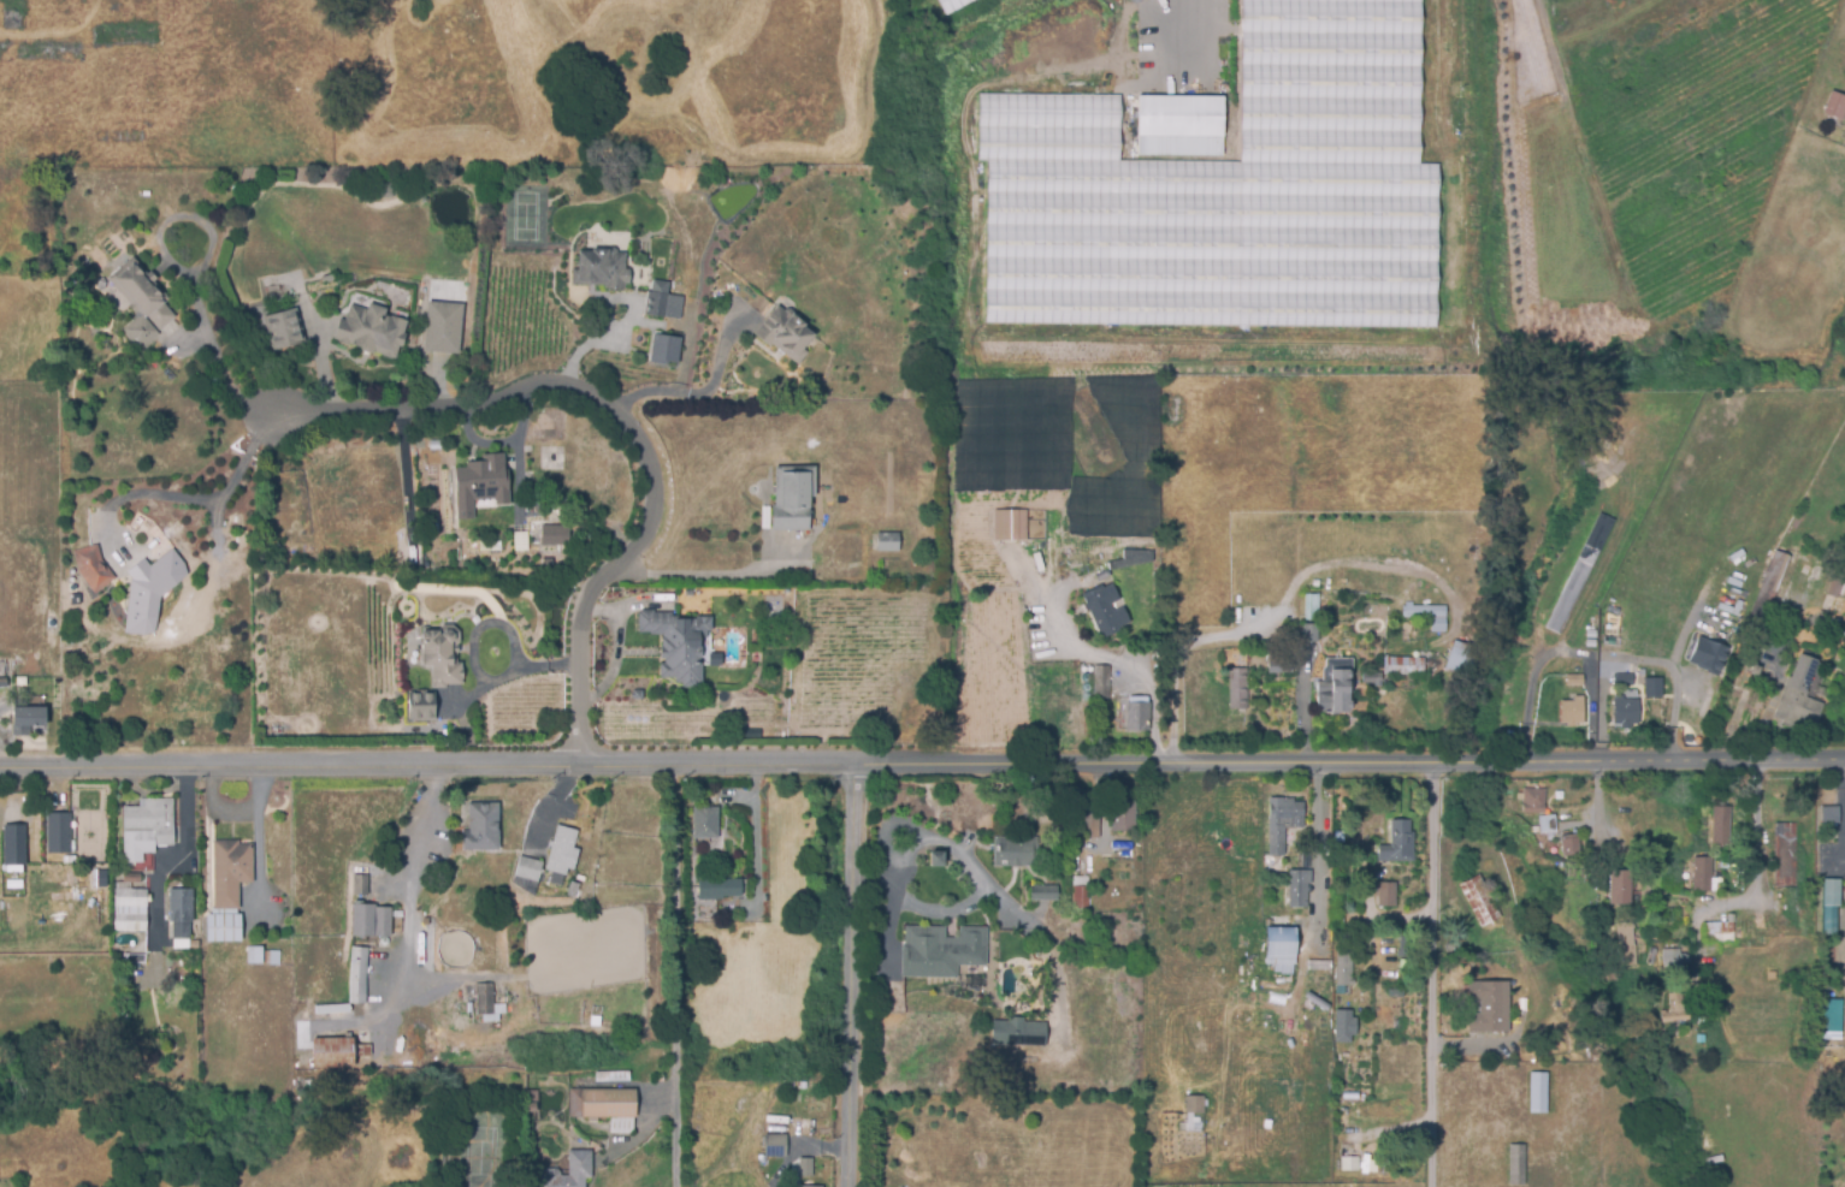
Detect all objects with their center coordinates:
building: (950, 6)
building: (935, 7)
road: (1225, 38)
building: (1835, 106)
building: (1179, 125)
building: (1229, 191)
building: (599, 267)
building: (325, 278)
building: (140, 298)
building: (657, 305)
building: (284, 327)
building: (440, 327)
building: (372, 328)
building: (785, 332)
road: (209, 343)
building: (666, 346)
road: (325, 362)
road: (691, 393)
road: (623, 425)
building: (481, 482)
building: (793, 495)
road: (209, 499)
building: (1011, 523)
building: (555, 533)
building: (888, 540)
building: (1136, 556)
building: (93, 566)
building: (1580, 570)
road: (682, 574)
building: (1835, 584)
building: (1774, 588)
building: (150, 589)
building: (1313, 605)
building: (1105, 609)
building: (1427, 615)
building: (1822, 616)
building: (1837, 618)
building: (1311, 630)
building: (1840, 631)
road: (1228, 634)
building: (1619, 635)
building: (1632, 636)
building: (678, 641)
building: (443, 654)
building: (1704, 654)
building: (1463, 655)
road: (1114, 660)
building: (1403, 663)
building: (1281, 664)
building: (1373, 675)
building: (1575, 677)
building: (1101, 678)
building: (1621, 678)
building: (4, 679)
building: (1337, 682)
building: (1238, 687)
building: (1651, 687)
building: (1662, 693)
building: (1798, 698)
road: (1300, 705)
building: (424, 706)
building: (1573, 708)
building: (1627, 708)
building: (1139, 712)
building: (28, 718)
building: (466, 729)
road: (1732, 729)
road: (922, 764)
building: (1533, 799)
building: (1122, 814)
building: (1831, 815)
building: (705, 820)
building: (1282, 820)
building: (1547, 820)
building: (1089, 823)
building: (1721, 823)
building: (483, 825)
building: (147, 826)
building: (1782, 830)
road: (1755, 832)
building: (59, 833)
road: (759, 838)
building: (13, 842)
building: (1396, 842)
building: (1571, 842)
road: (1317, 843)
building: (1015, 849)
road: (175, 853)
building: (562, 853)
building: (935, 860)
building: (231, 870)
building: (530, 870)
building: (1704, 873)
building: (1785, 873)
building: (132, 874)
building: (362, 883)
building: (1621, 883)
building: (14, 884)
building: (1831, 884)
building: (1299, 885)
building: (573, 886)
building: (719, 888)
building: (1045, 890)
building: (1081, 891)
building: (1388, 891)
building: (1480, 898)
road: (977, 900)
building: (130, 907)
building: (182, 909)
road: (409, 918)
building: (371, 919)
building: (224, 926)
building: (1622, 927)
building: (1727, 928)
building: (1282, 943)
road: (1051, 946)
building: (941, 951)
building: (262, 955)
building: (1632, 955)
building: (1672, 955)
building: (1344, 956)
building: (720, 960)
building: (1320, 962)
building: (706, 969)
building: (360, 974)
road: (847, 974)
road: (1445, 974)
road: (678, 975)
road: (457, 978)
building: (1195, 992)
building: (484, 997)
building: (1490, 1004)
building: (1675, 1007)
building: (335, 1008)
building: (1831, 1011)
building: (1342, 1026)
building: (1018, 1033)
building: (365, 1050)
building: (333, 1051)
building: (1538, 1090)
building: (1195, 1103)
building: (607, 1105)
road: (55, 1144)
building: (776, 1144)
building: (757, 1153)
building: (761, 1163)
building: (1348, 1163)
building: (1516, 1163)
building: (806, 1164)
building: (569, 1170)
building: (810, 1185)
building: (800, 1186)

